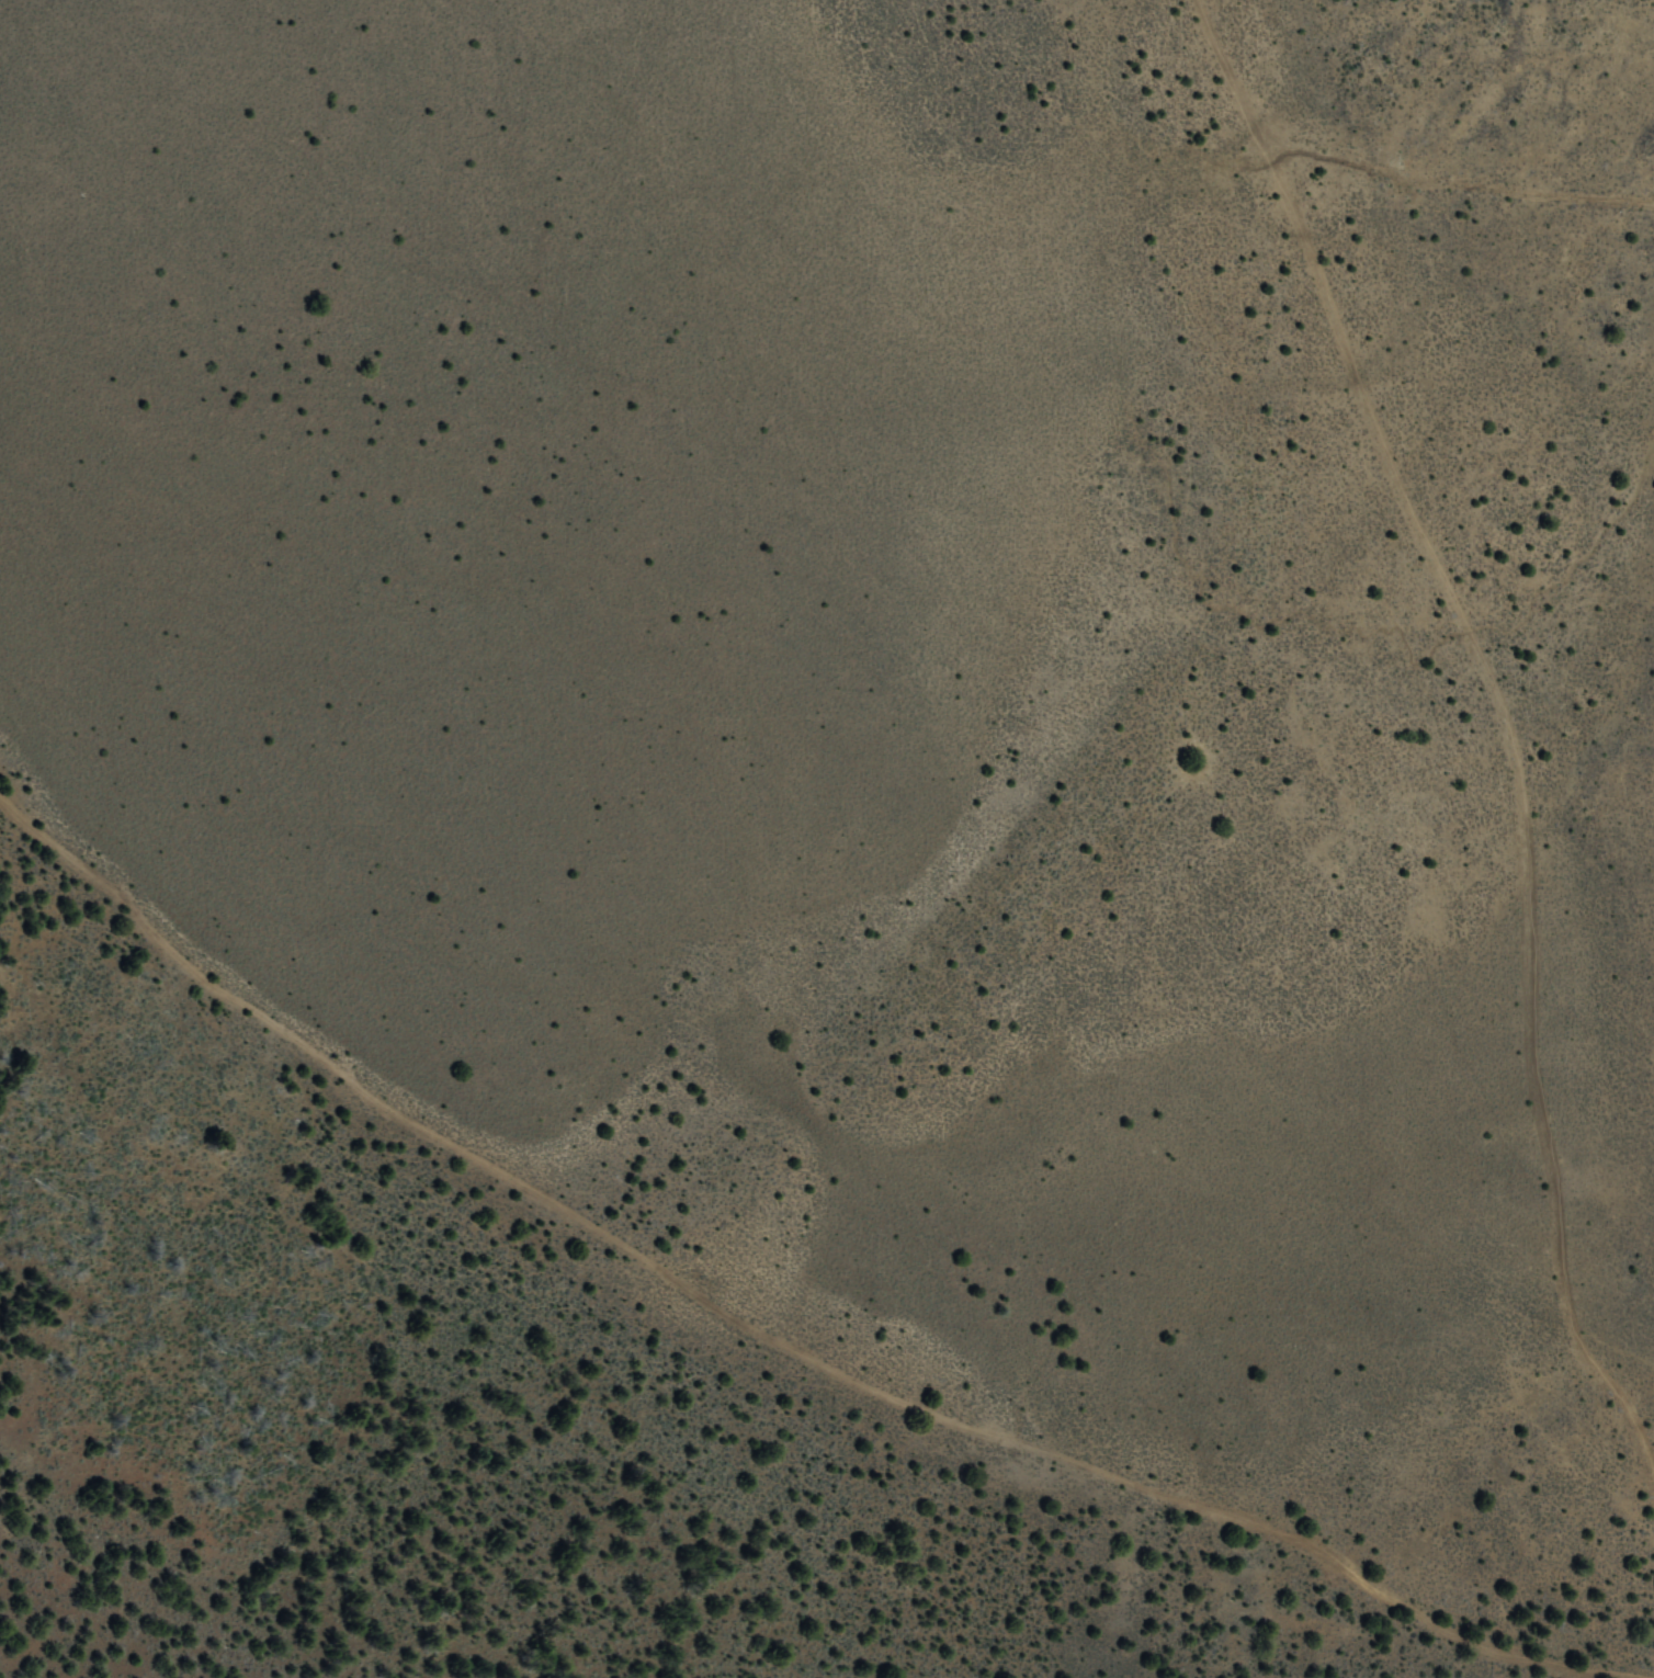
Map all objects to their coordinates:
road: (1515, 750)
road: (773, 1335)

